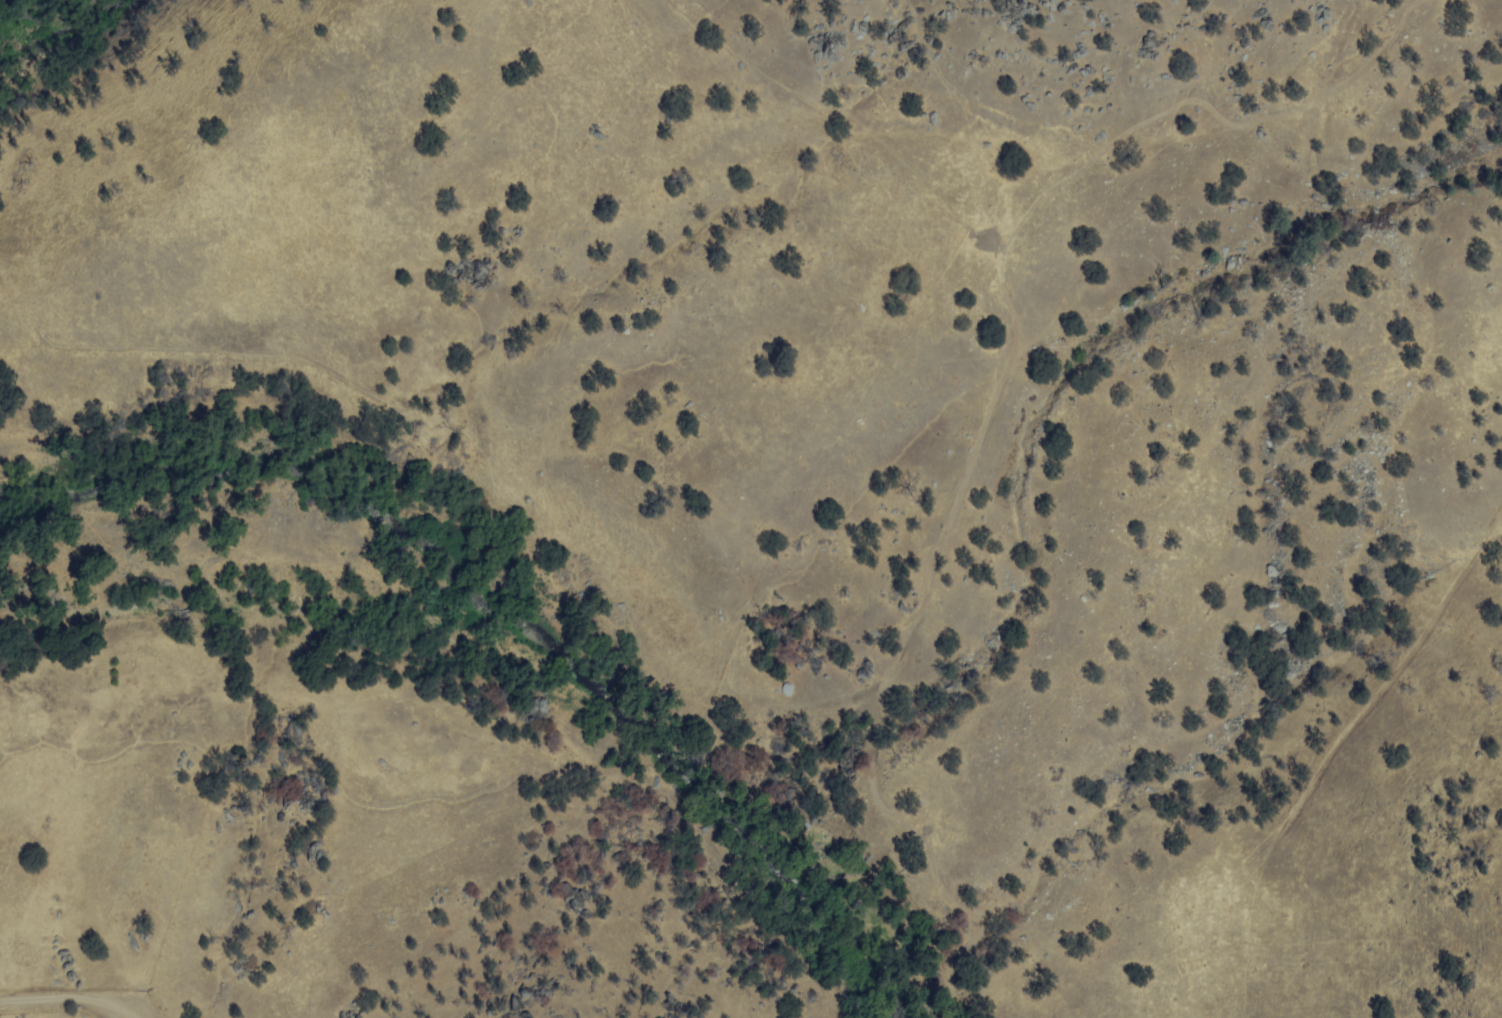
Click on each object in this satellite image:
road: (47, 998)

